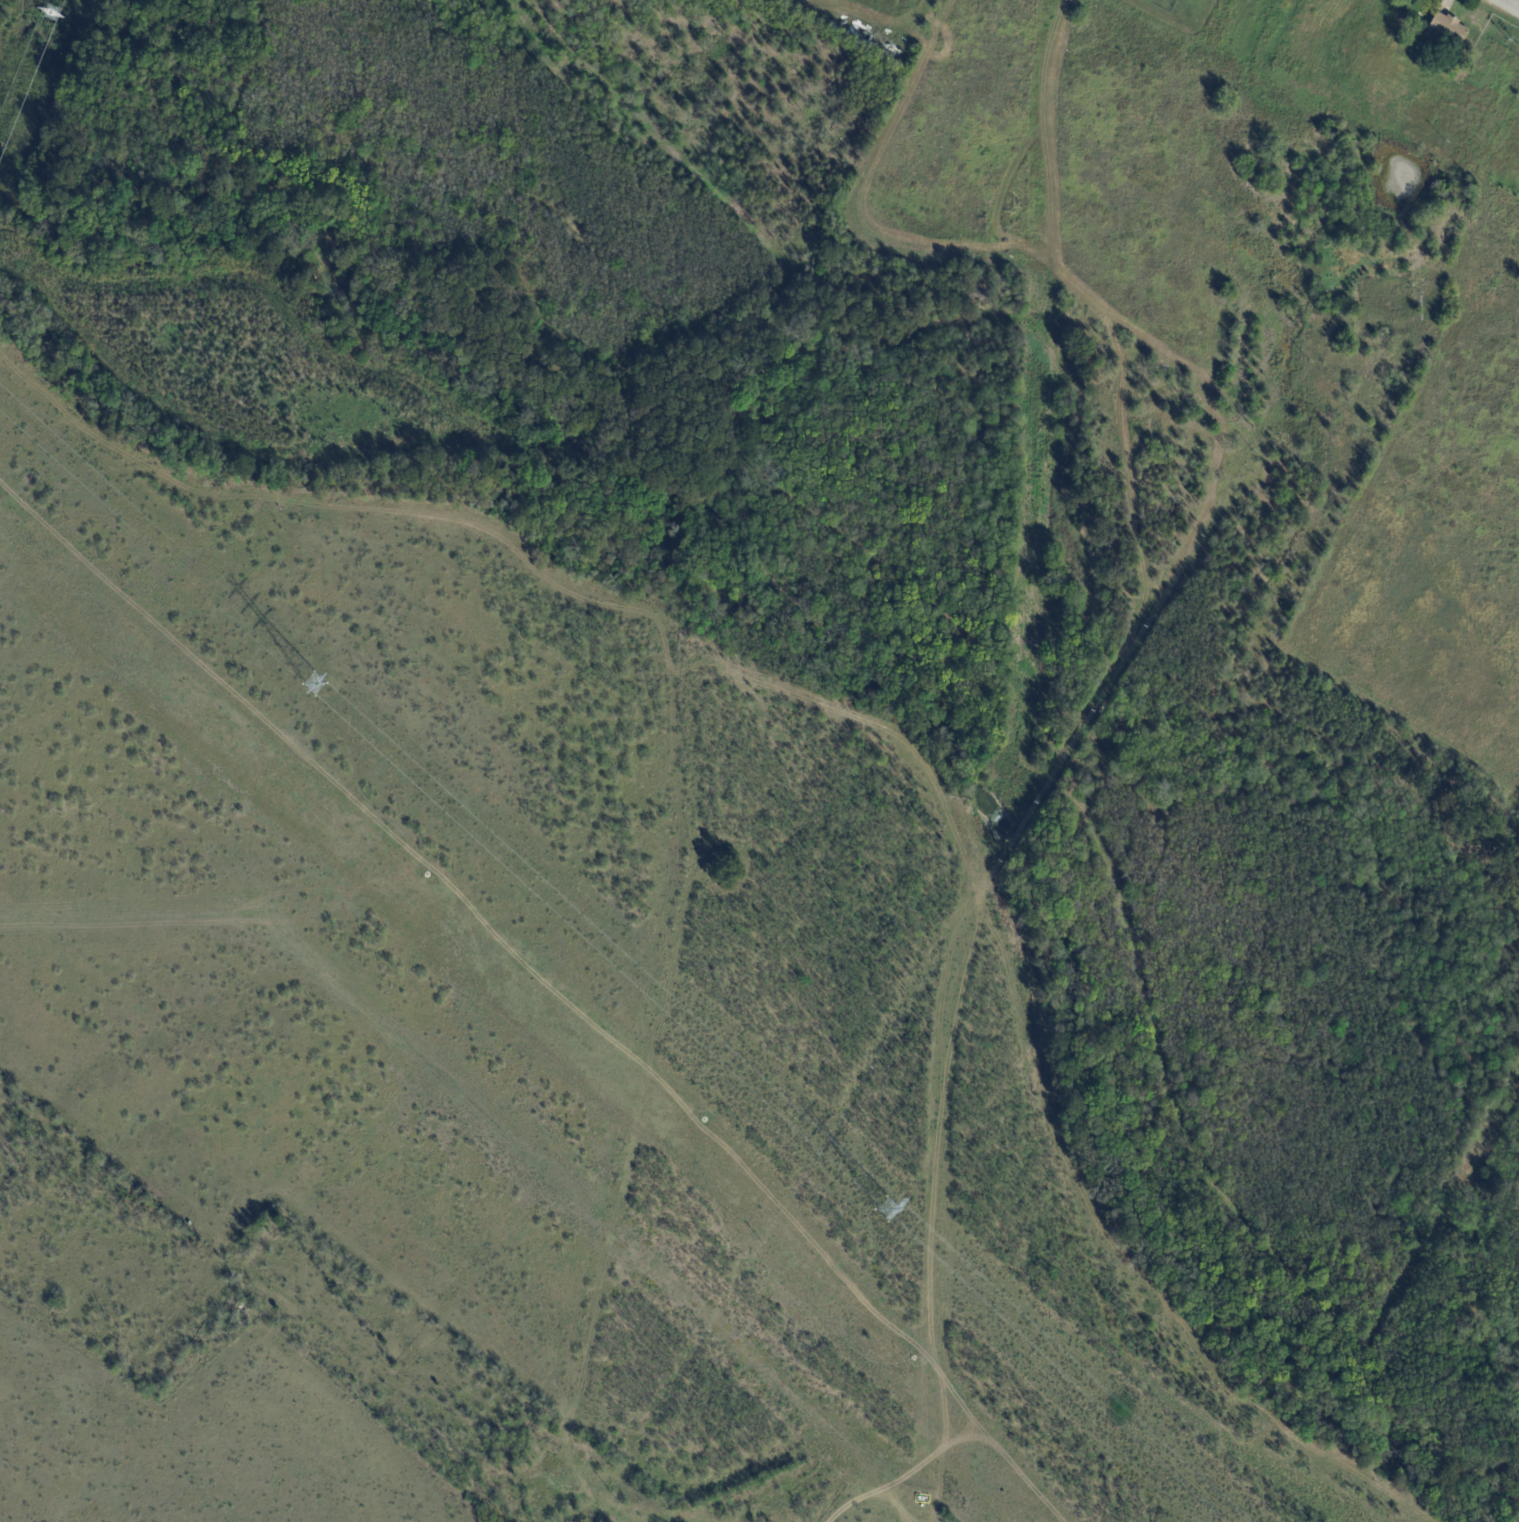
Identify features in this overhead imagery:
building: (116, 0)
road: (1507, 6)
power tower: (53, 11)
building: (75, 14)
building: (91, 17)
building: (1448, 30)
building: (107, 34)
power tower: (312, 680)
building: (1101, 710)
power tower: (890, 1210)

